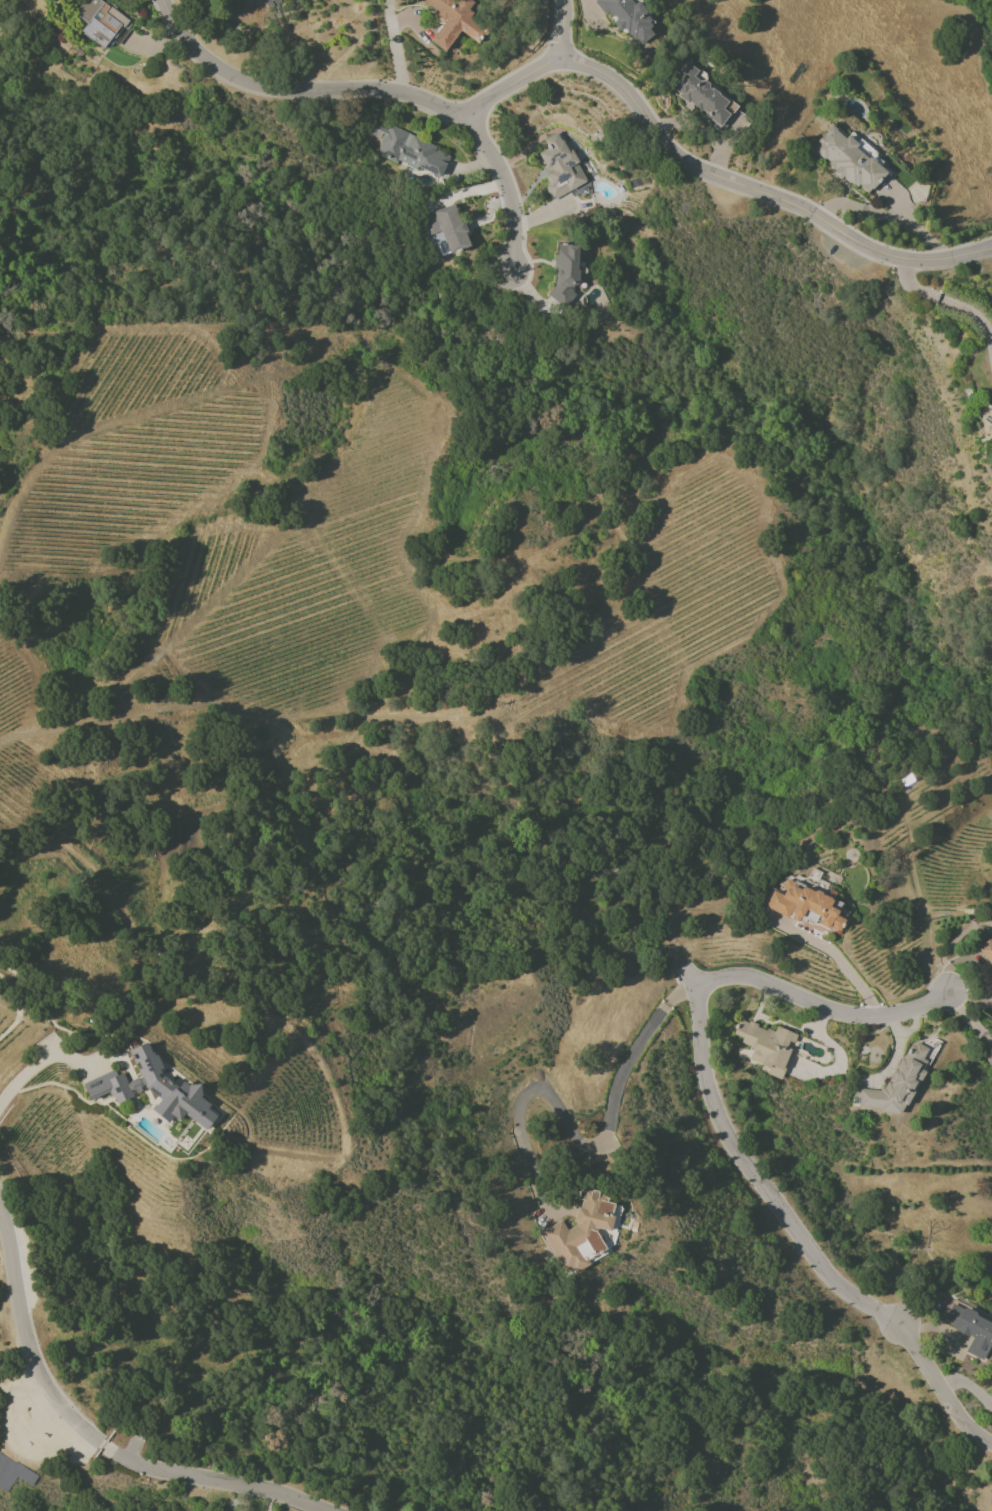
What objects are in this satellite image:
building: (209, 0)
building: (629, 19)
building: (99, 21)
building: (456, 21)
road: (560, 29)
road: (394, 46)
road: (295, 90)
building: (702, 98)
building: (410, 151)
building: (560, 167)
road: (709, 172)
road: (505, 185)
building: (447, 227)
building: (565, 272)
road: (945, 300)
building: (989, 430)
building: (804, 906)
building: (987, 951)
road: (827, 1006)
road: (971, 1018)
building: (766, 1046)
road: (36, 1065)
building: (897, 1082)
building: (108, 1086)
building: (168, 1091)
road: (605, 1138)
building: (580, 1232)
road: (804, 1241)
building: (970, 1329)
road: (29, 1337)
building: (12, 1474)
road: (216, 1479)

